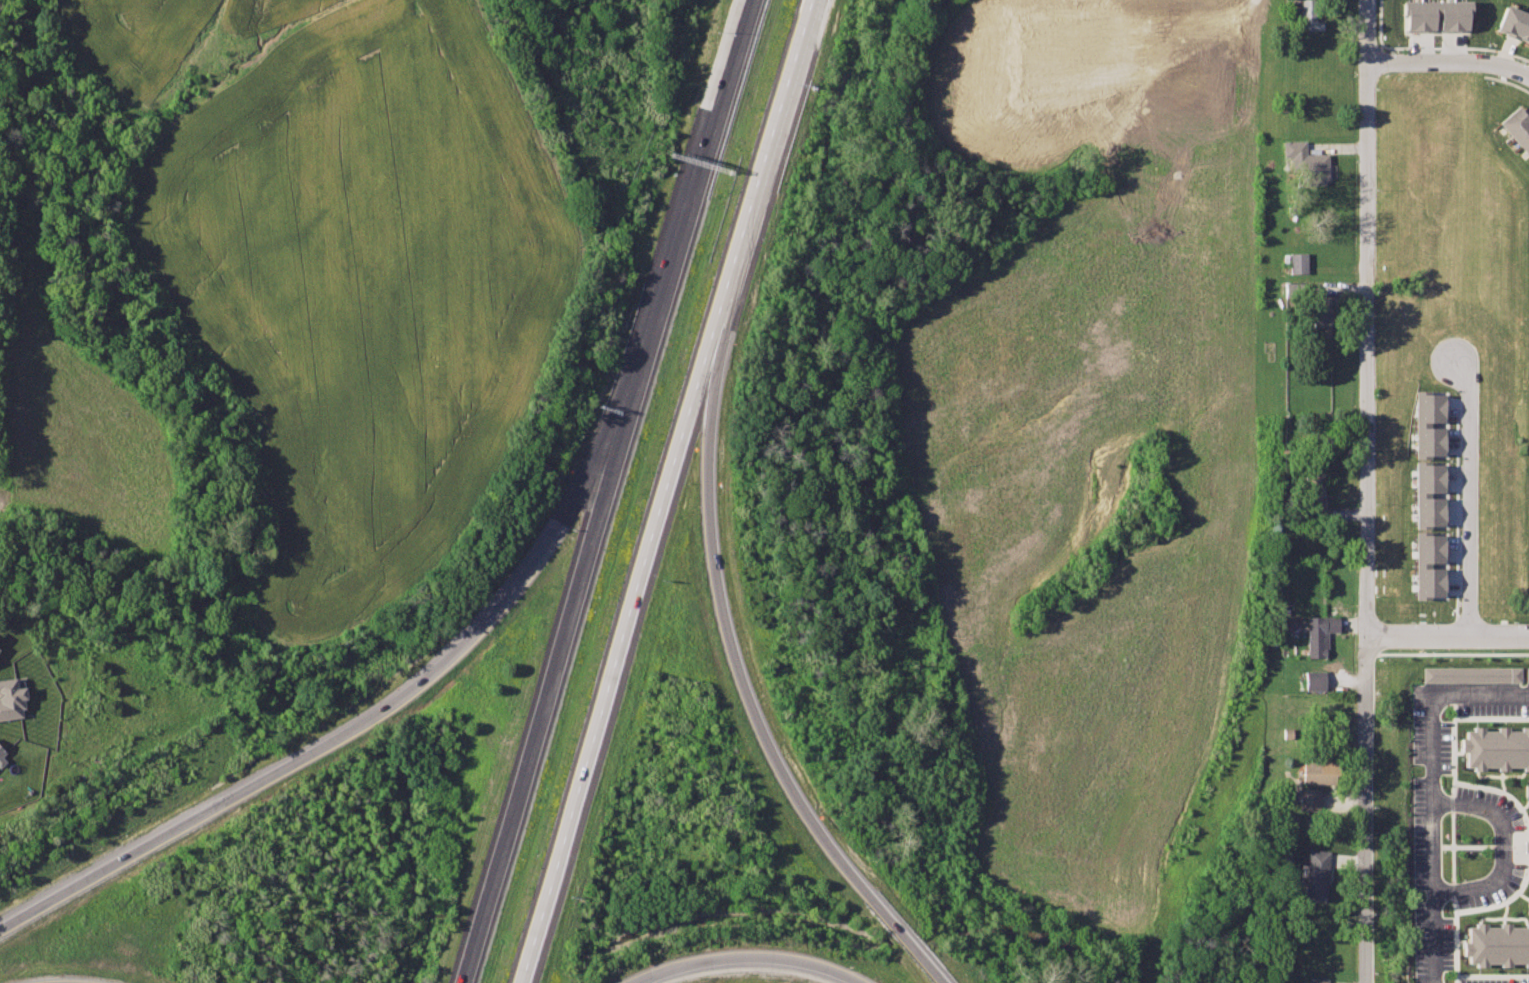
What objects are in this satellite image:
building: (1434, 13)
building: (1308, 16)
building: (1513, 21)
road: (1505, 52)
road: (1449, 60)
building: (1516, 130)
building: (1305, 162)
road: (761, 163)
road: (687, 216)
building: (1295, 264)
building: (1319, 313)
building: (1427, 418)
crop: (1096, 441)
building: (1425, 489)
road: (1363, 491)
building: (1309, 492)
road: (1472, 492)
building: (1425, 559)
building: (1320, 634)
road: (1446, 638)
building: (1, 649)
road: (616, 654)
building: (1472, 674)
building: (1527, 674)
building: (1314, 681)
road: (742, 683)
building: (15, 703)
road: (543, 708)
road: (351, 725)
building: (1494, 742)
building: (3, 760)
building: (1319, 772)
road: (1426, 785)
building: (1310, 800)
building: (1292, 822)
road: (1504, 839)
building: (1314, 875)
river: (906, 942)
building: (1494, 944)
road: (741, 956)
building: (1314, 980)

